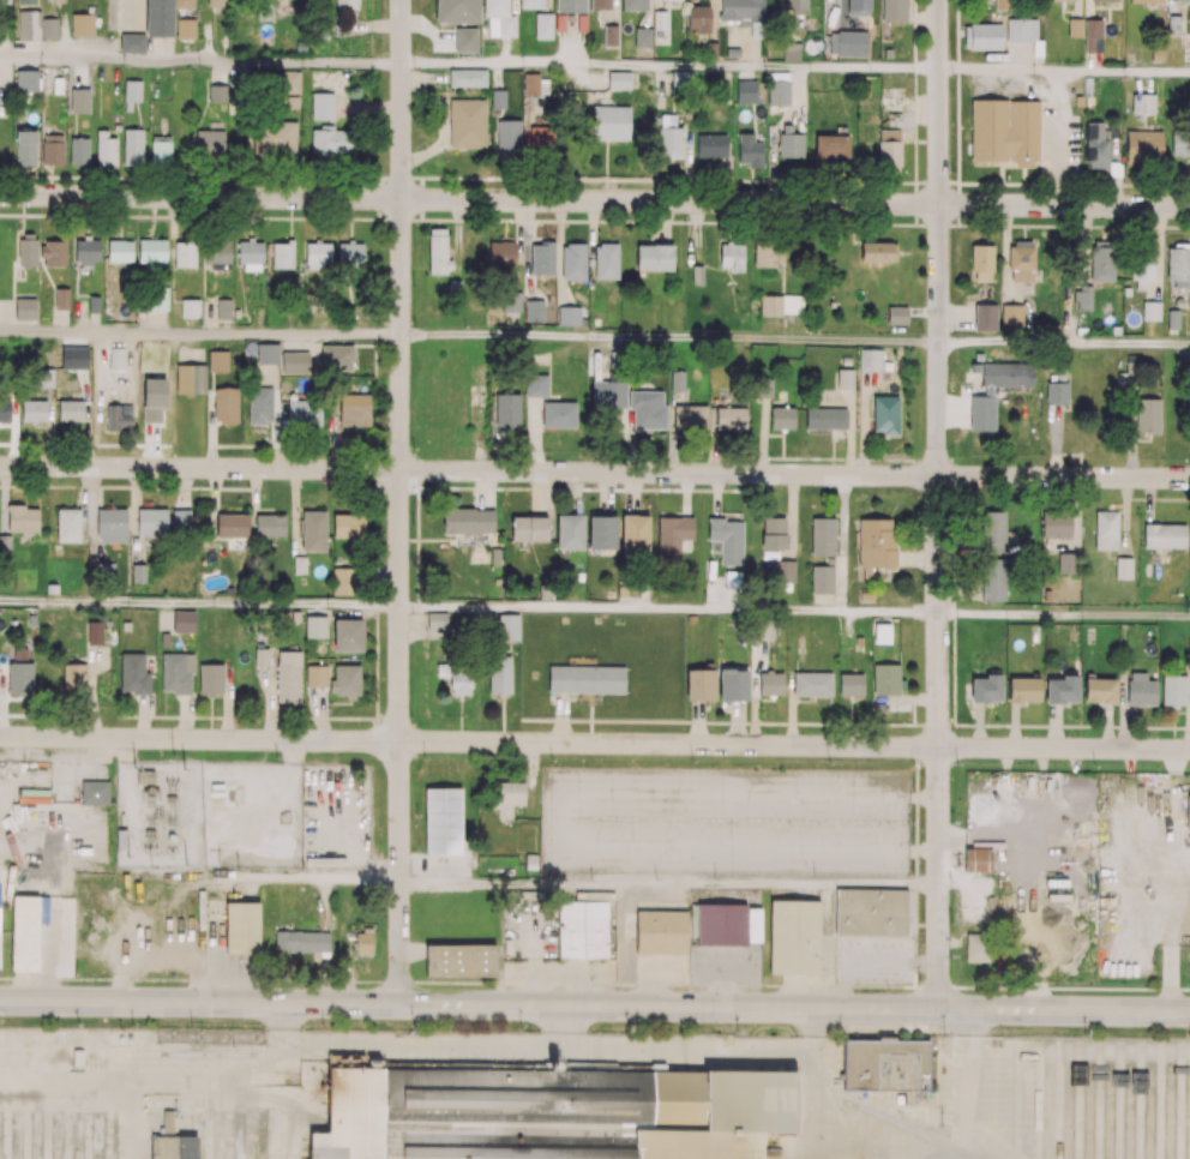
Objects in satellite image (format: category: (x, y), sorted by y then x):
road: (200, 60)
road: (668, 66)
road: (1063, 70)
road: (1059, 137)
road: (594, 200)
road: (199, 334)
road: (668, 338)
road: (1064, 343)
road: (595, 472)
road: (399, 502)
road: (937, 504)
road: (199, 605)
road: (668, 611)
road: (1064, 615)
road: (594, 743)
road: (125, 751)
power tower: (173, 781)
power substation: (210, 817)
power tower: (152, 848)
road: (199, 876)
road: (1064, 885)
road: (668, 888)
road: (594, 984)
road: (594, 1005)
road: (444, 1041)
road: (691, 1045)
road: (179, 1079)
road: (817, 1125)
railway: (908, 1128)

